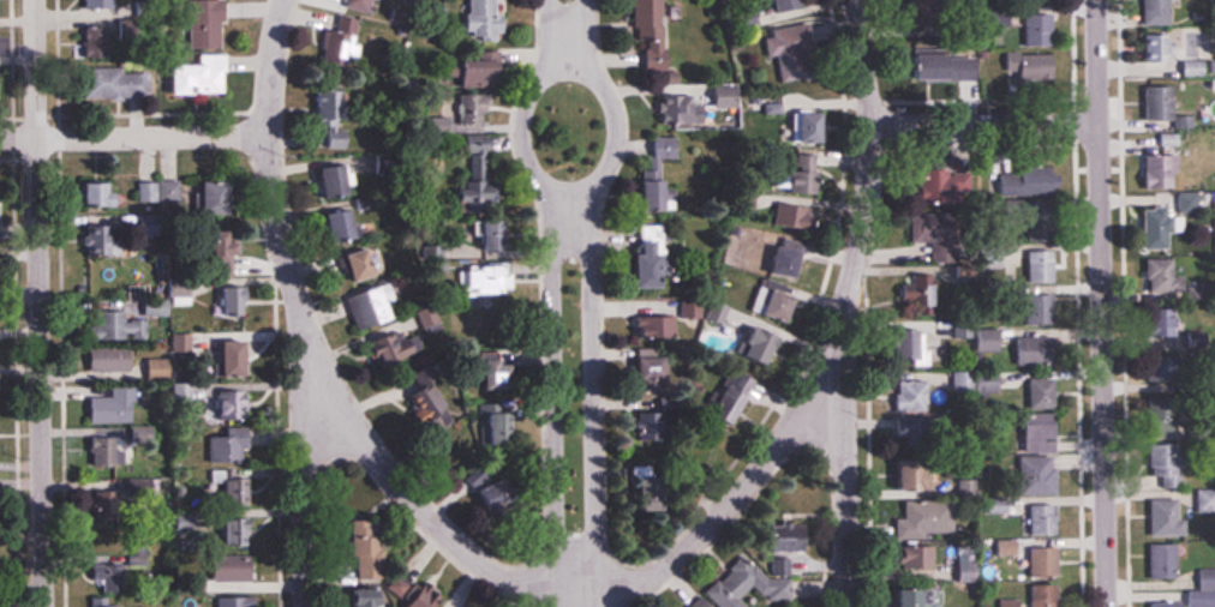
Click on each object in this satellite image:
building: (1039, 1)
building: (100, 5)
building: (363, 5)
building: (788, 5)
building: (1159, 11)
building: (928, 18)
building: (486, 20)
building: (208, 24)
building: (1041, 29)
building: (660, 38)
building: (101, 41)
building: (341, 41)
building: (1155, 47)
building: (791, 49)
building: (947, 66)
building: (1031, 66)
building: (204, 73)
building: (485, 73)
building: (102, 84)
building: (1160, 103)
building: (331, 104)
building: (702, 109)
building: (468, 110)
building: (812, 126)
road: (983, 126)
road: (136, 139)
building: (1165, 167)
building: (658, 168)
building: (806, 174)
building: (343, 180)
building: (1028, 181)
building: (157, 184)
building: (478, 184)
building: (956, 184)
building: (106, 192)
building: (222, 197)
building: (0, 198)
building: (353, 222)
building: (1161, 227)
building: (490, 234)
building: (108, 238)
building: (231, 241)
building: (792, 260)
building: (365, 264)
building: (1042, 265)
building: (656, 266)
building: (1162, 275)
building: (487, 280)
road: (550, 295)
road: (594, 296)
building: (231, 300)
road: (295, 301)
road: (844, 301)
road: (38, 302)
building: (780, 303)
road: (1100, 303)
building: (375, 307)
building: (1042, 308)
building: (430, 319)
building: (1168, 321)
building: (121, 325)
building: (674, 325)
building: (988, 338)
building: (1039, 338)
building: (771, 345)
building: (916, 347)
building: (239, 356)
building: (112, 359)
building: (158, 367)
building: (491, 368)
building: (658, 371)
building: (977, 381)
building: (1171, 383)
building: (0, 385)
building: (1043, 395)
building: (914, 396)
building: (735, 397)
building: (232, 402)
building: (116, 405)
building: (665, 423)
building: (1043, 433)
building: (239, 445)
building: (119, 451)
building: (1168, 467)
building: (910, 474)
building: (1041, 476)
road: (754, 480)
road: (415, 510)
building: (1166, 518)
building: (927, 519)
building: (1045, 519)
building: (369, 546)
building: (914, 558)
building: (1165, 561)
building: (1046, 563)
building: (784, 564)
building: (237, 569)
building: (738, 584)
building: (1204, 590)
building: (1048, 595)
building: (366, 597)
building: (914, 597)
building: (250, 601)
building: (425, 601)
building: (702, 602)
building: (112, 603)
building: (1168, 605)

